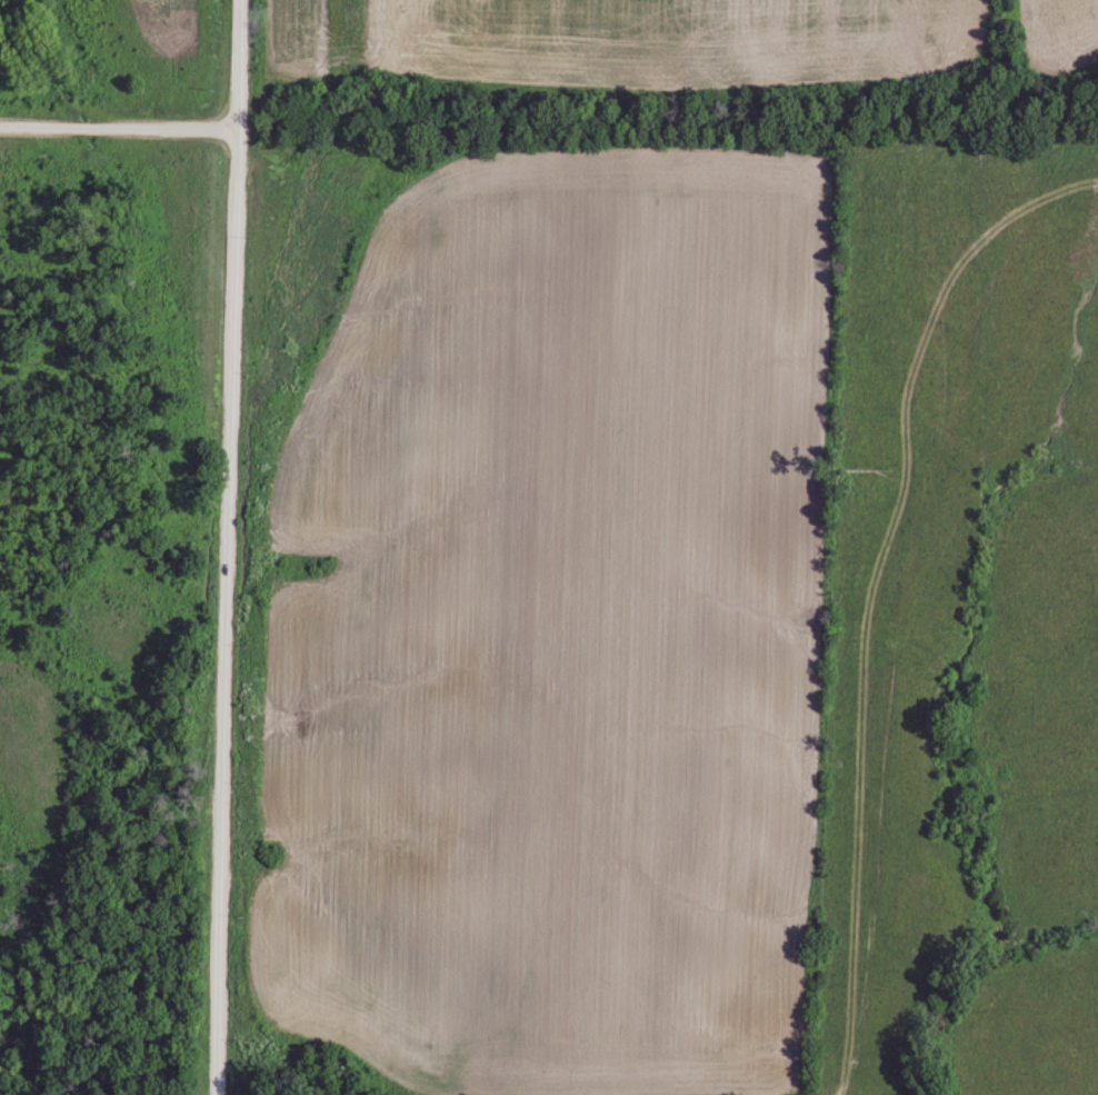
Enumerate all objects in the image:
road: (118, 129)
road: (229, 547)

